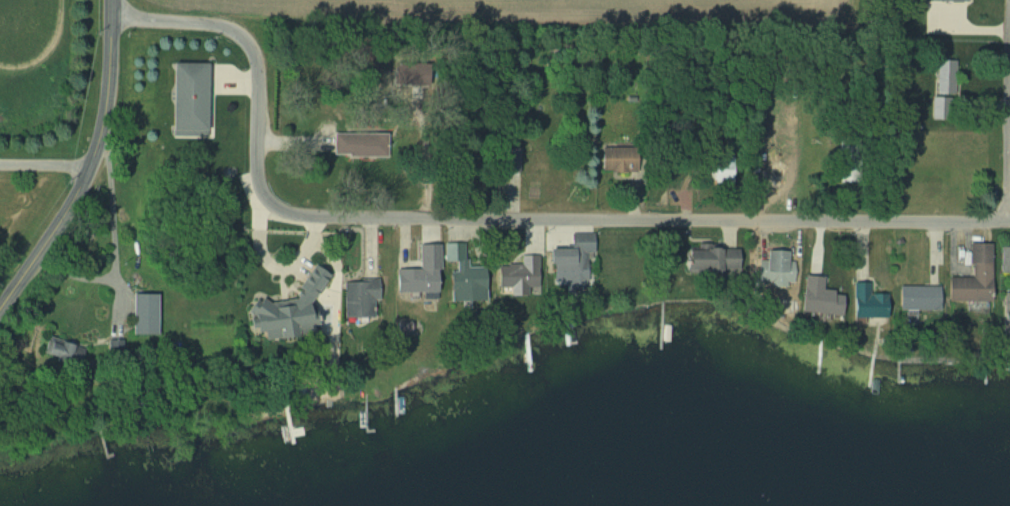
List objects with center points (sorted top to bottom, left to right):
building: (944, 76)
road: (110, 84)
building: (184, 98)
road: (1008, 132)
building: (358, 144)
building: (507, 159)
road: (47, 166)
road: (485, 219)
road: (113, 236)
road: (49, 241)
building: (569, 258)
building: (707, 258)
building: (774, 267)
building: (516, 275)
building: (971, 277)
building: (414, 281)
building: (465, 282)
building: (358, 298)
building: (915, 298)
building: (816, 302)
building: (864, 302)
building: (283, 309)
building: (1007, 312)
building: (138, 315)
building: (52, 349)

